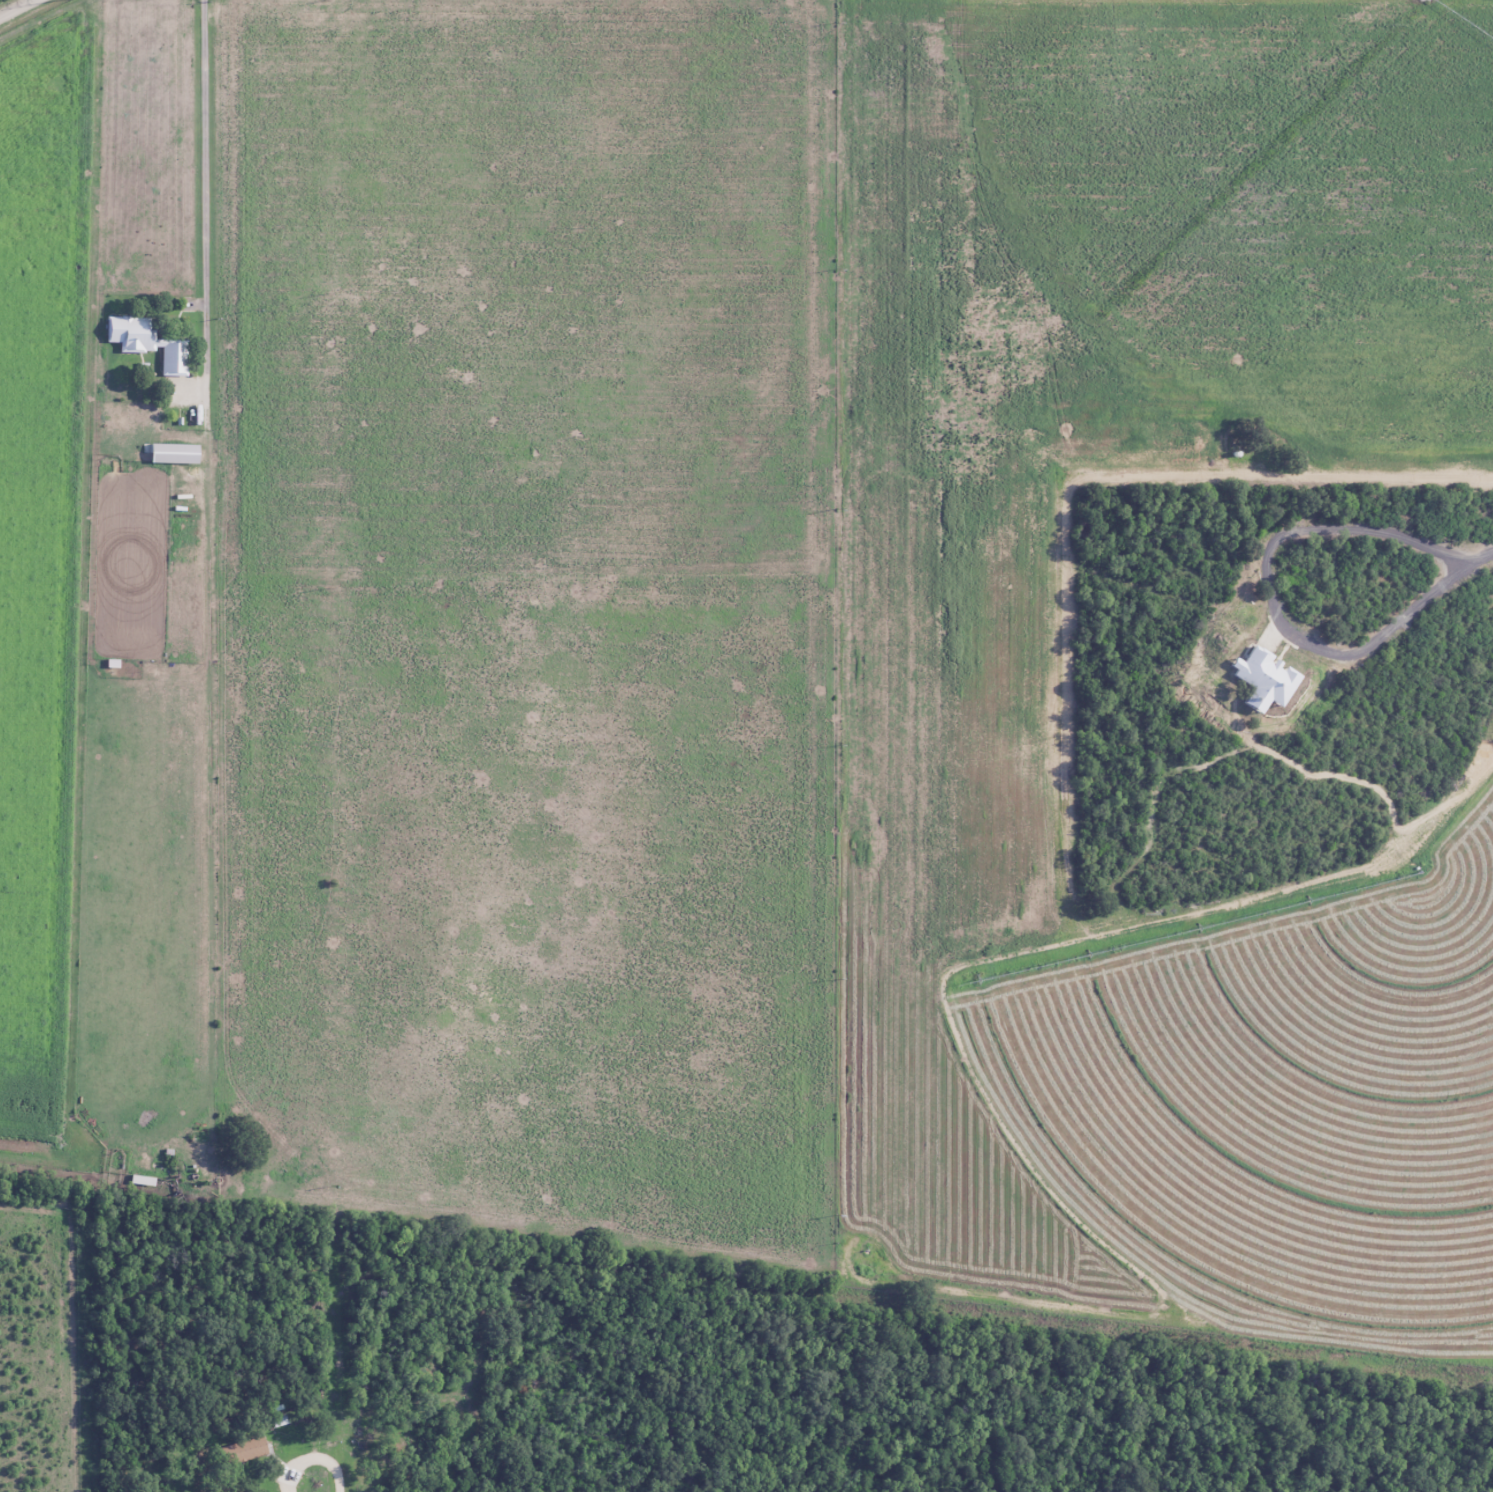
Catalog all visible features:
road: (18, 9)
road: (206, 194)
building: (155, 346)
building: (176, 454)
road: (1484, 557)
road: (1265, 597)
building: (1259, 680)
building: (144, 1181)
road: (862, 1326)
building: (244, 1451)
road: (314, 1461)

